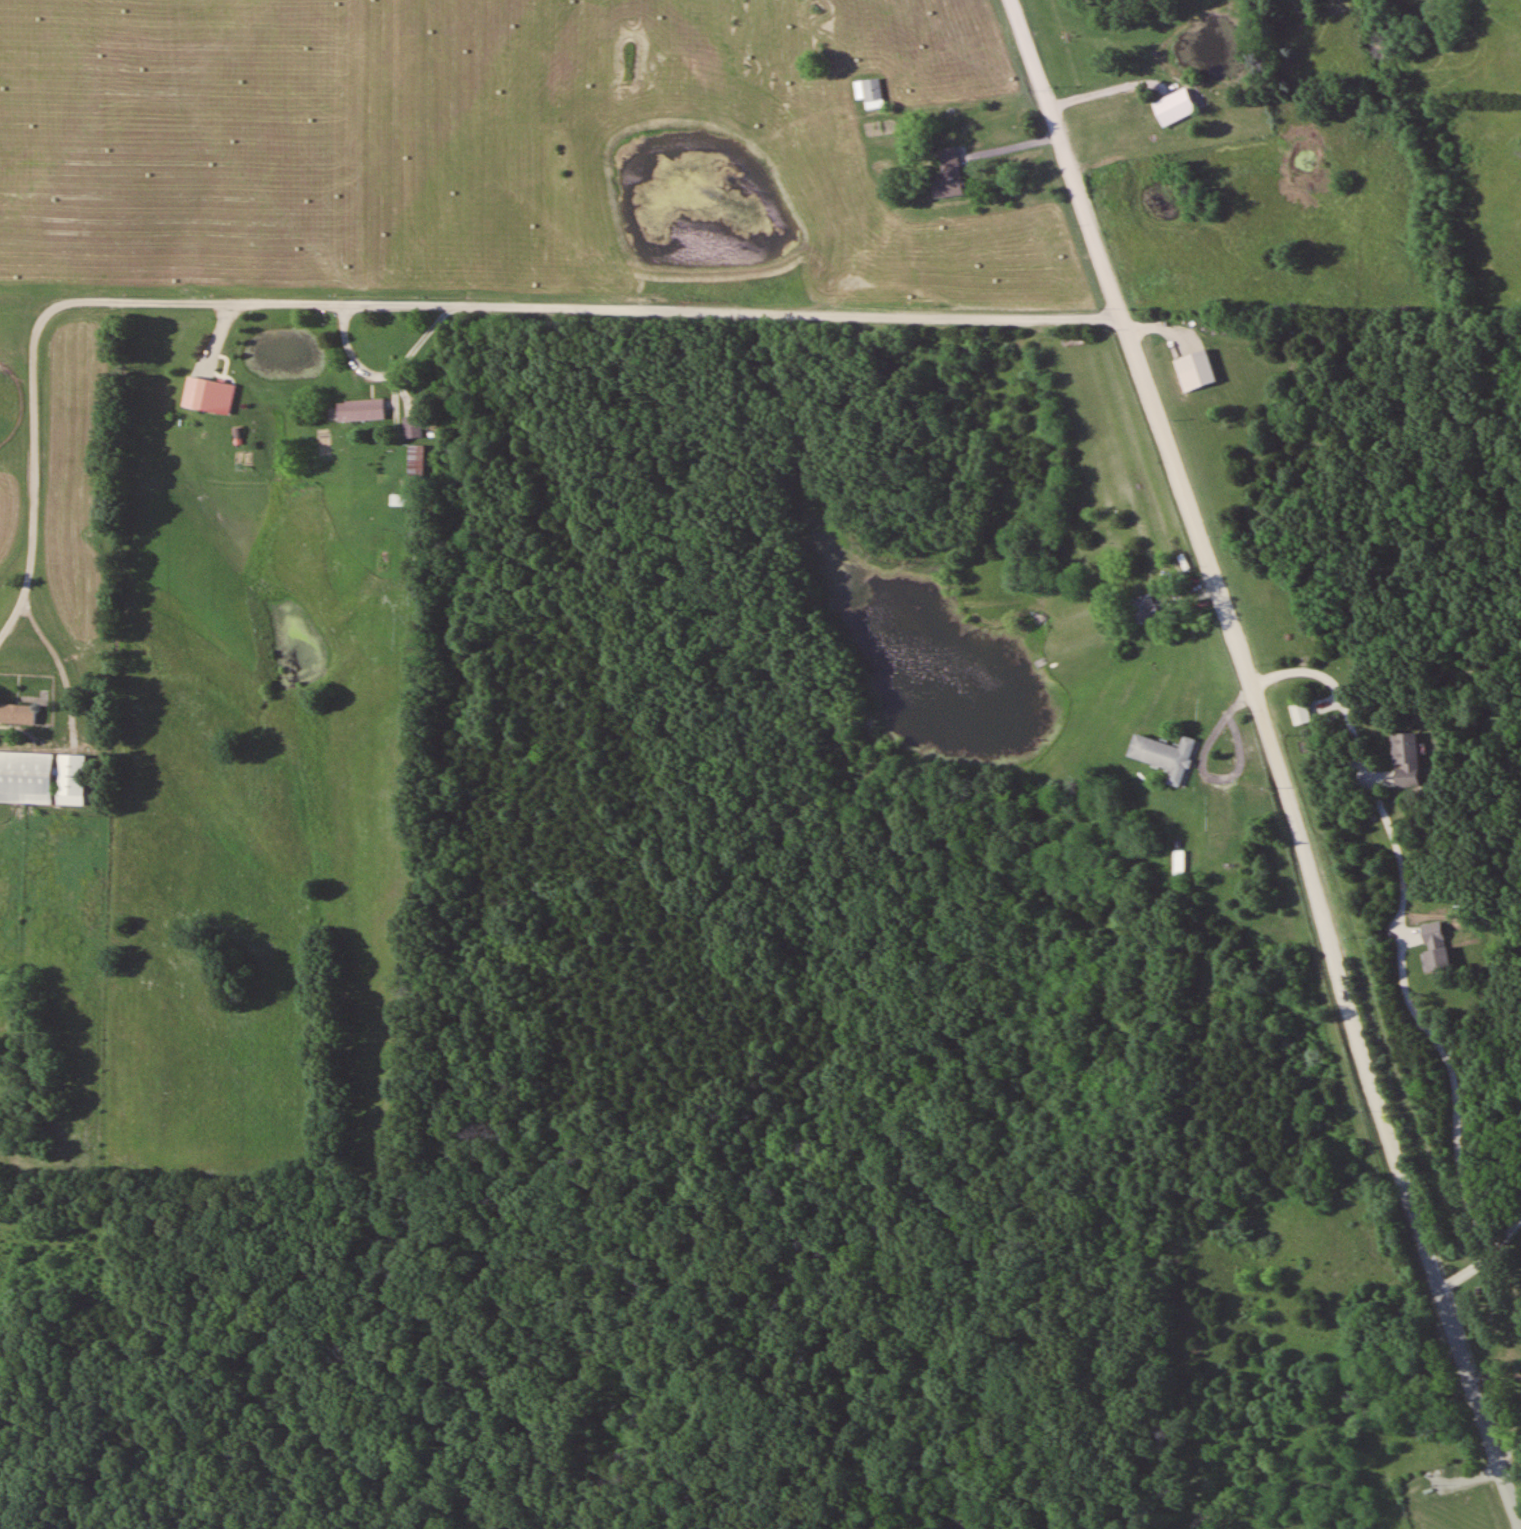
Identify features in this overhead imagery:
building: (871, 92)
building: (1175, 108)
building: (951, 174)
road: (430, 310)
building: (1196, 369)
building: (210, 394)
building: (359, 410)
building: (413, 426)
building: (417, 461)
building: (404, 500)
building: (1146, 607)
building: (1301, 712)
building: (17, 713)
building: (1165, 755)
building: (1407, 759)
road: (1273, 761)
building: (26, 777)
building: (71, 779)
building: (1179, 862)
building: (1439, 959)
road: (1485, 1259)
road: (1504, 1420)
park: (168, 1450)

